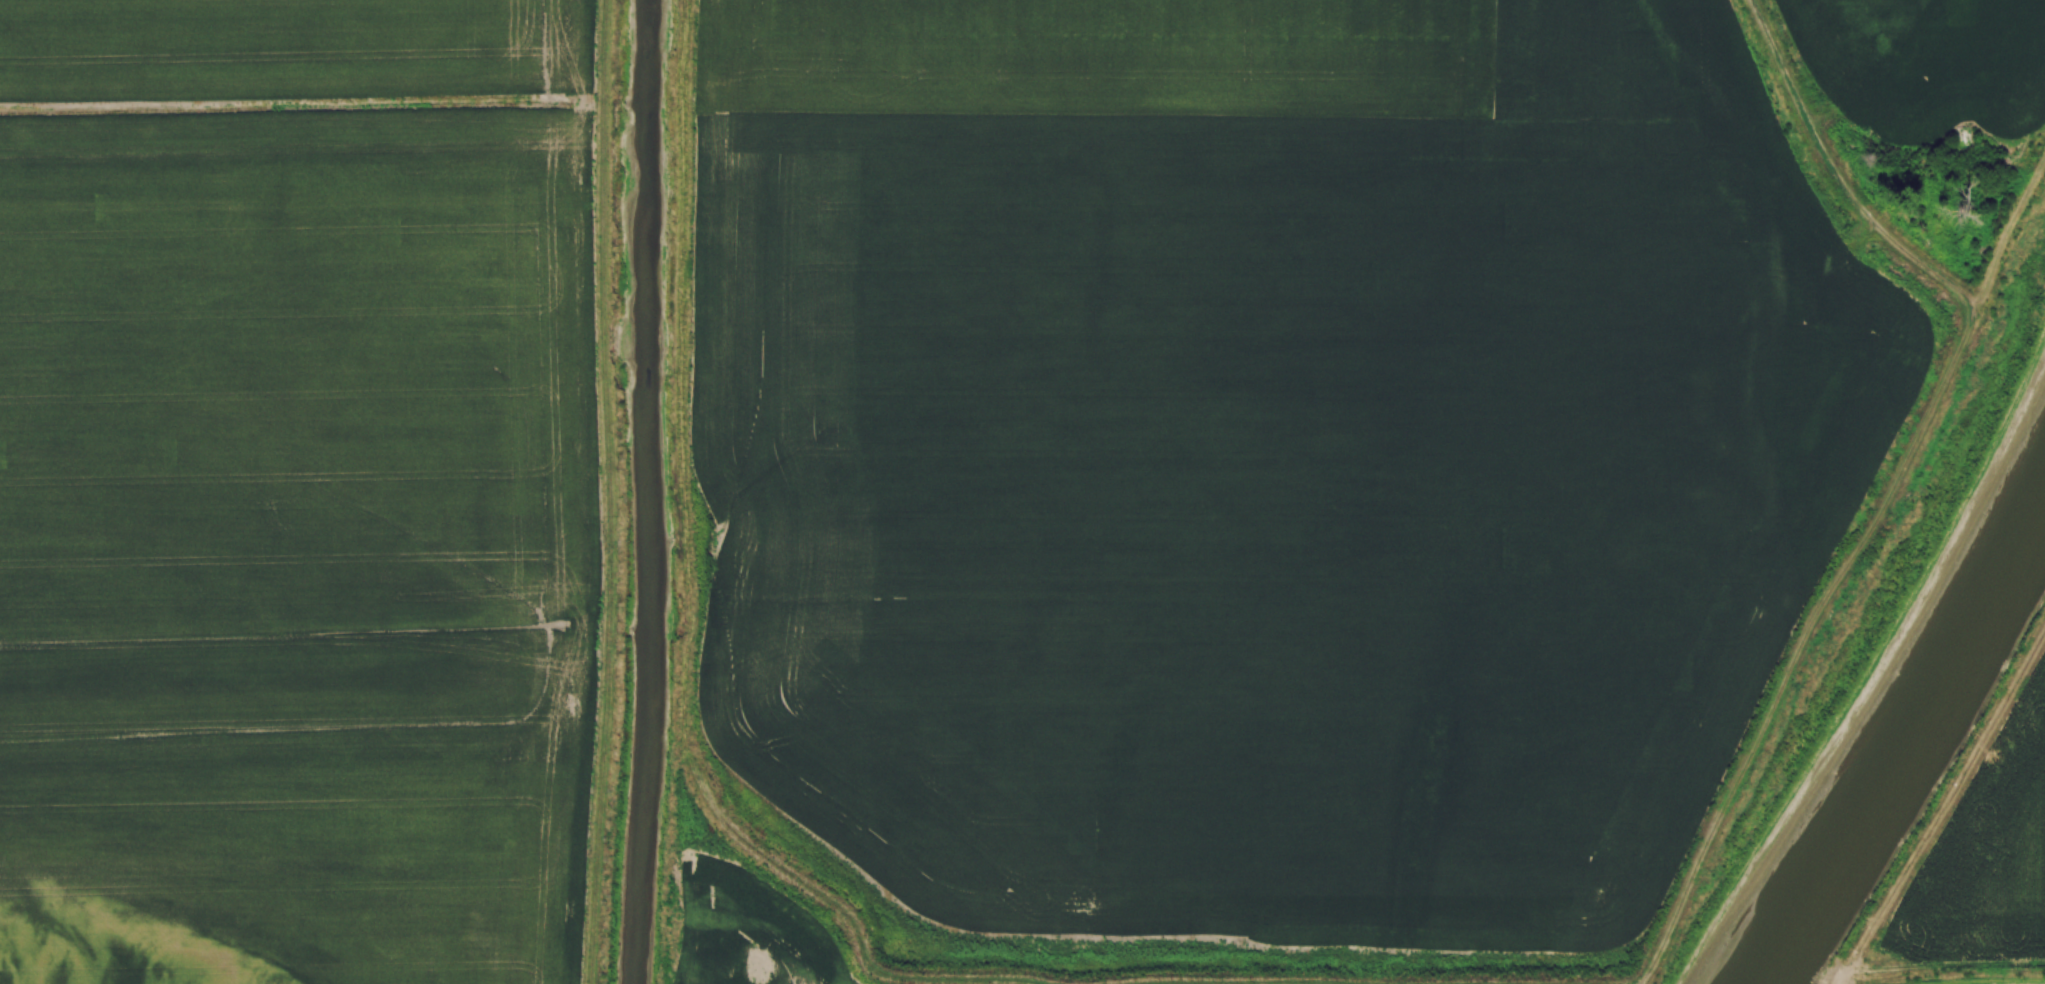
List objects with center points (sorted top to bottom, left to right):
road: (1903, 476)
river: (1906, 730)

